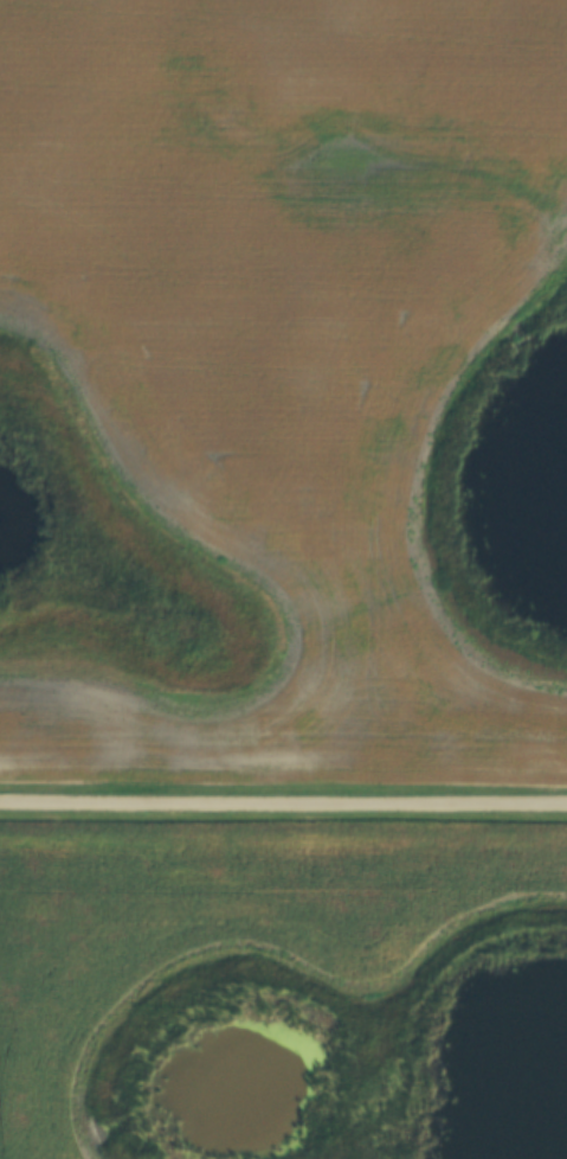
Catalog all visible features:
road: (283, 796)

